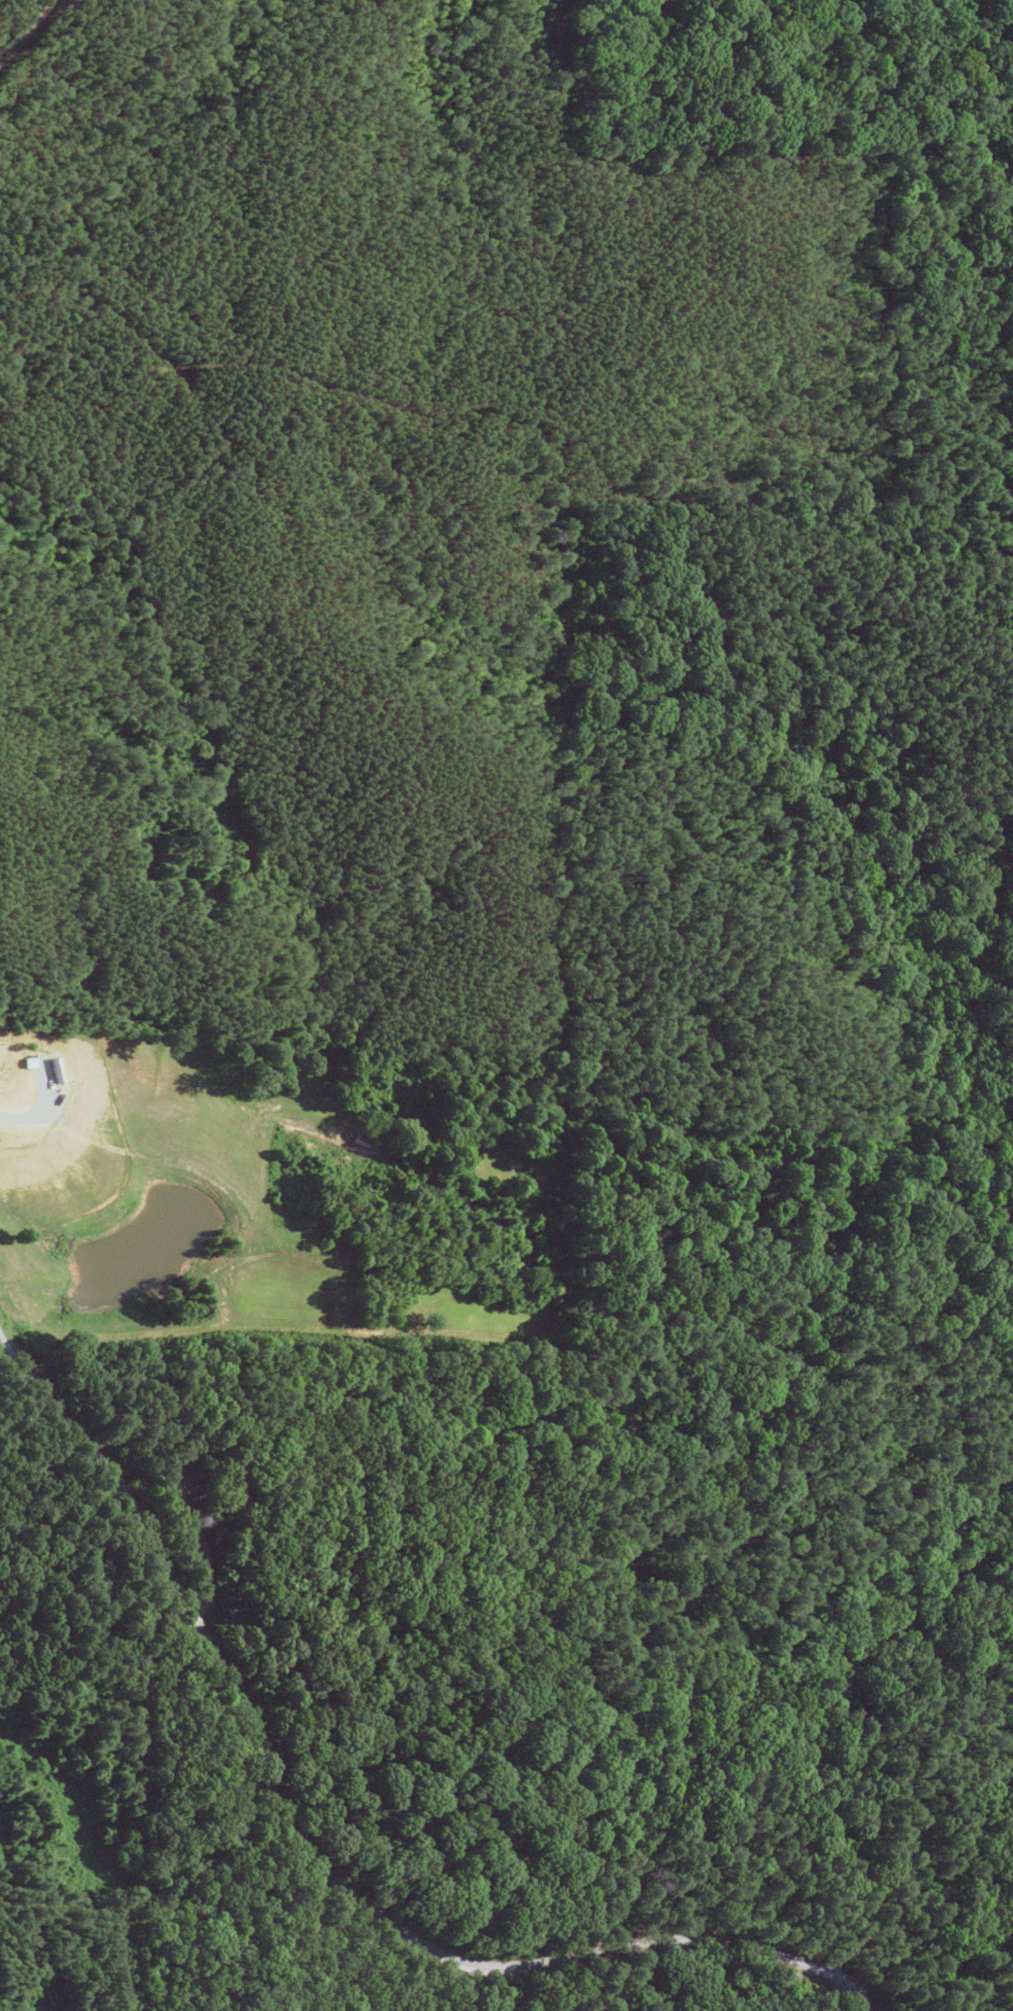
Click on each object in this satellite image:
road: (507, 922)
building: (362, 1141)
road: (268, 1769)
road: (936, 1958)

